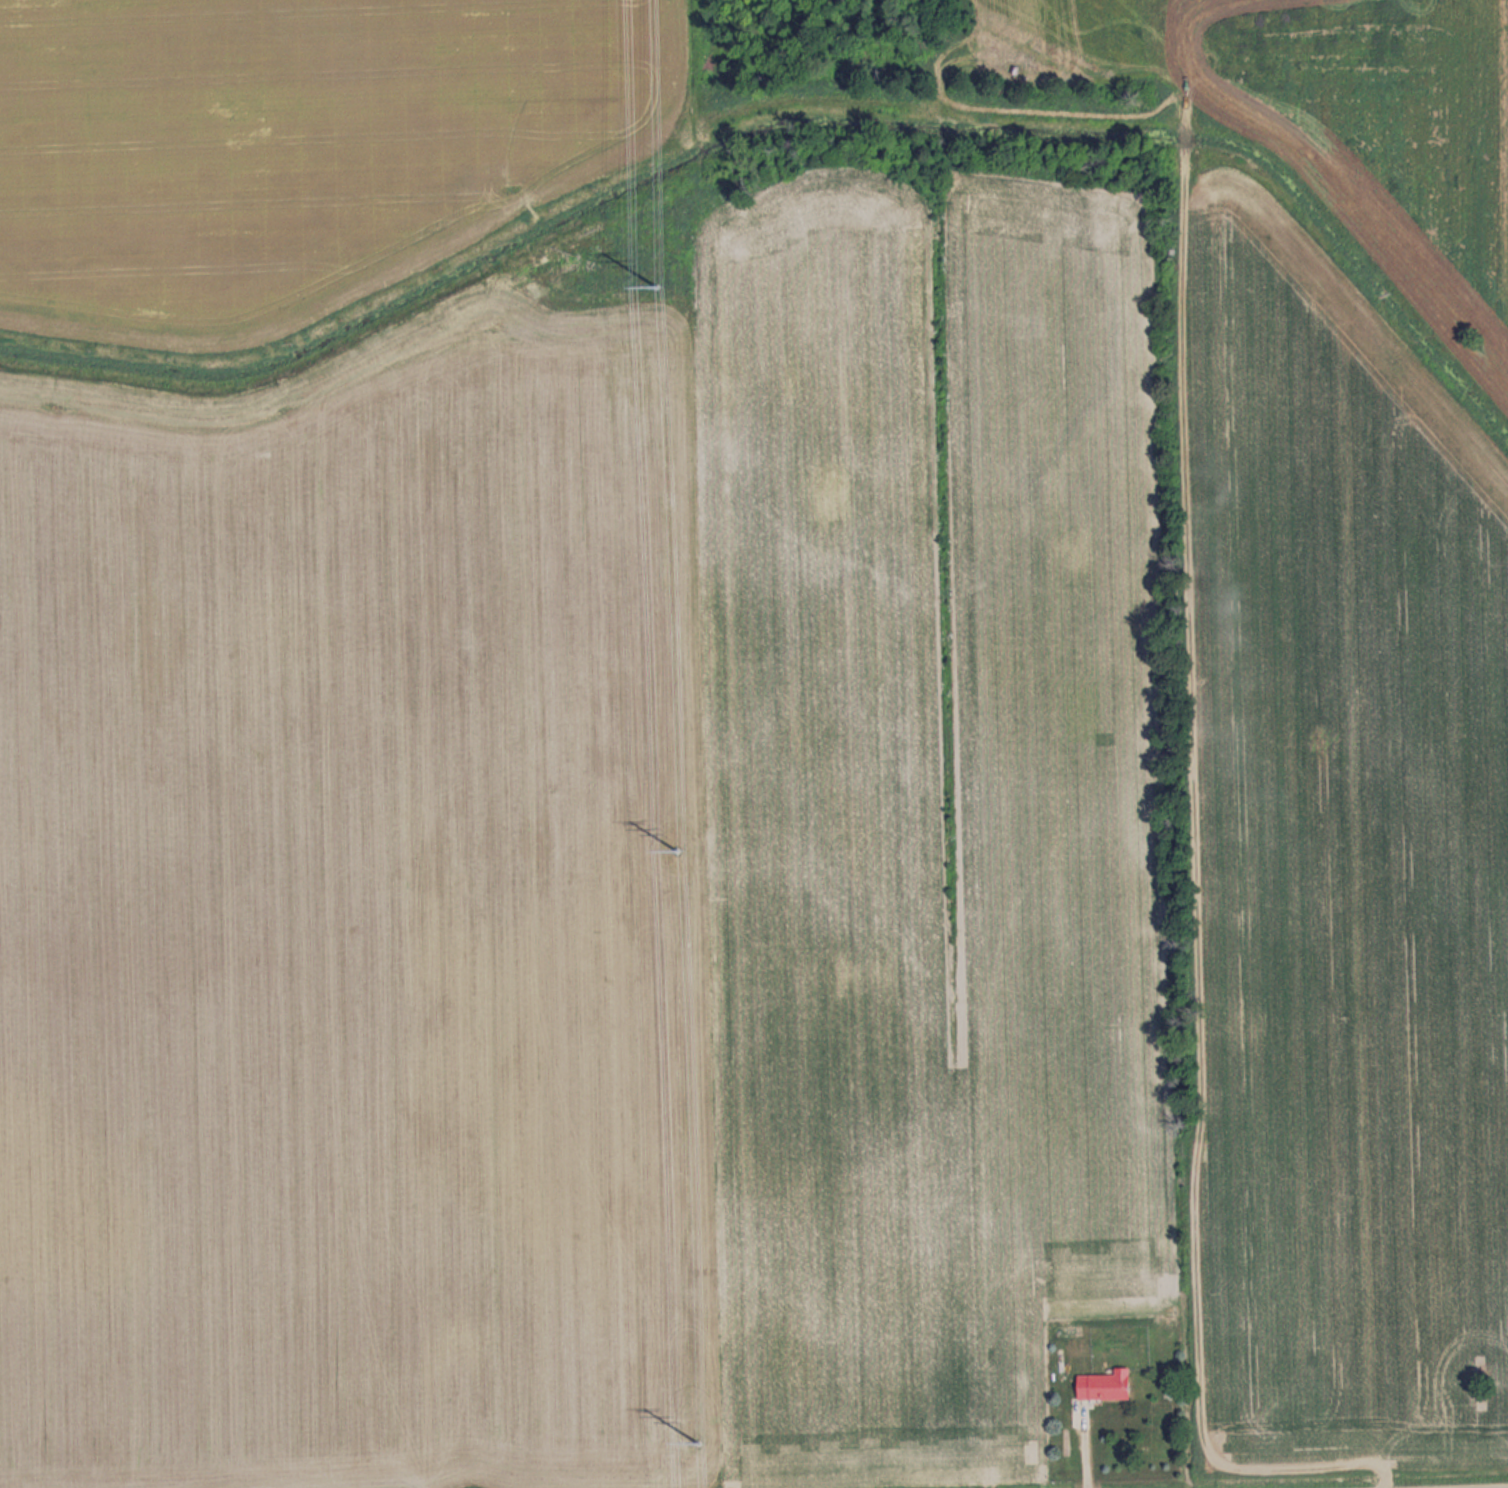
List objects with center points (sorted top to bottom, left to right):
power tower: (654, 281)
power tower: (677, 845)
building: (1102, 1384)
power tower: (694, 1434)

